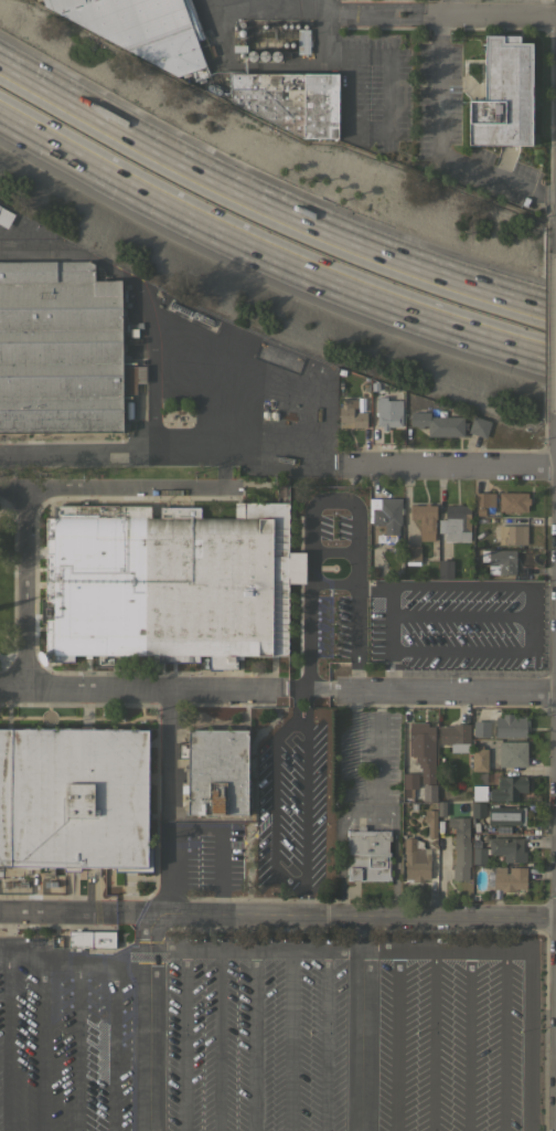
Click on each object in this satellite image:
road: (327, 6)
road: (452, 7)
road: (527, 8)
road: (545, 8)
road: (331, 12)
road: (488, 14)
building: (142, 29)
building: (302, 40)
building: (503, 94)
road: (388, 98)
building: (290, 101)
road: (440, 138)
road: (548, 192)
road: (270, 199)
building: (6, 216)
road: (90, 256)
road: (269, 257)
building: (61, 350)
parking lot: (224, 387)
building: (387, 411)
building: (351, 414)
building: (438, 424)
building: (479, 426)
road: (76, 450)
road: (306, 455)
road: (450, 466)
road: (120, 487)
road: (334, 496)
building: (484, 498)
building: (513, 501)
road: (4, 508)
building: (386, 515)
building: (425, 519)
building: (456, 522)
building: (513, 535)
road: (332, 551)
building: (413, 554)
building: (500, 560)
building: (446, 569)
park: (7, 581)
building: (169, 583)
road: (332, 583)
road: (374, 584)
road: (457, 584)
road: (28, 588)
road: (460, 613)
parking lot: (462, 628)
road: (474, 649)
road: (389, 651)
road: (3, 662)
road: (170, 687)
road: (302, 689)
road: (448, 689)
road: (300, 718)
road: (300, 721)
road: (285, 726)
building: (511, 726)
building: (481, 728)
building: (456, 736)
road: (379, 748)
building: (423, 749)
road: (168, 750)
road: (353, 750)
building: (513, 753)
building: (217, 772)
building: (479, 773)
building: (410, 780)
building: (507, 788)
building: (74, 800)
parking lot: (286, 806)
road: (365, 808)
building: (478, 810)
building: (506, 815)
building: (430, 822)
road: (195, 827)
building: (459, 837)
building: (506, 848)
building: (367, 854)
road: (394, 854)
building: (478, 854)
road: (339, 859)
building: (415, 862)
building: (505, 879)
road: (306, 900)
road: (183, 912)
road: (461, 915)
building: (92, 939)
road: (276, 951)
road: (26, 959)
road: (146, 1021)
road: (555, 1024)
parking lot: (268, 1033)
road: (6, 1038)
road: (183, 1040)
road: (216, 1040)
road: (250, 1040)
road: (289, 1040)
road: (323, 1040)
road: (360, 1040)
road: (396, 1040)
road: (431, 1040)
road: (467, 1040)
road: (502, 1040)
road: (527, 1043)
road: (77, 1046)
road: (111, 1046)
road: (41, 1057)

